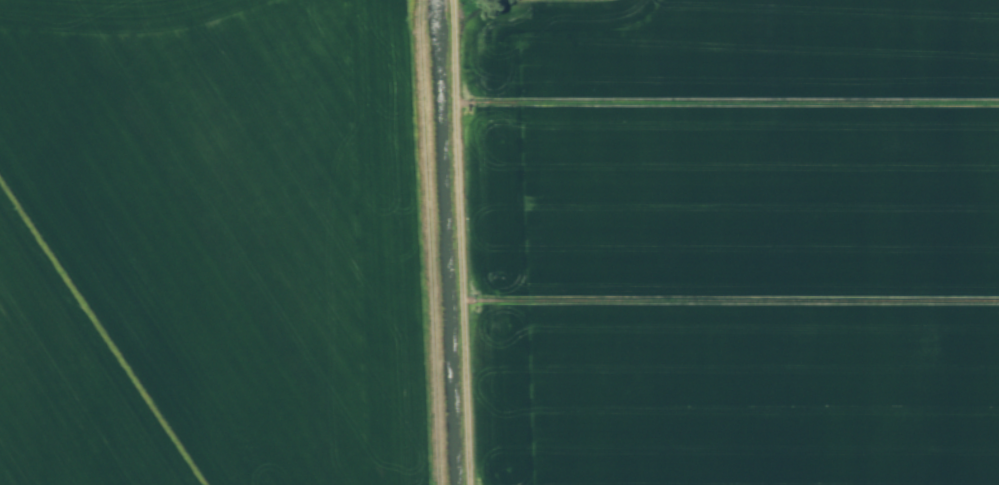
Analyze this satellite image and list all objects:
crop: (729, 241)
road: (455, 242)
crop: (210, 244)

